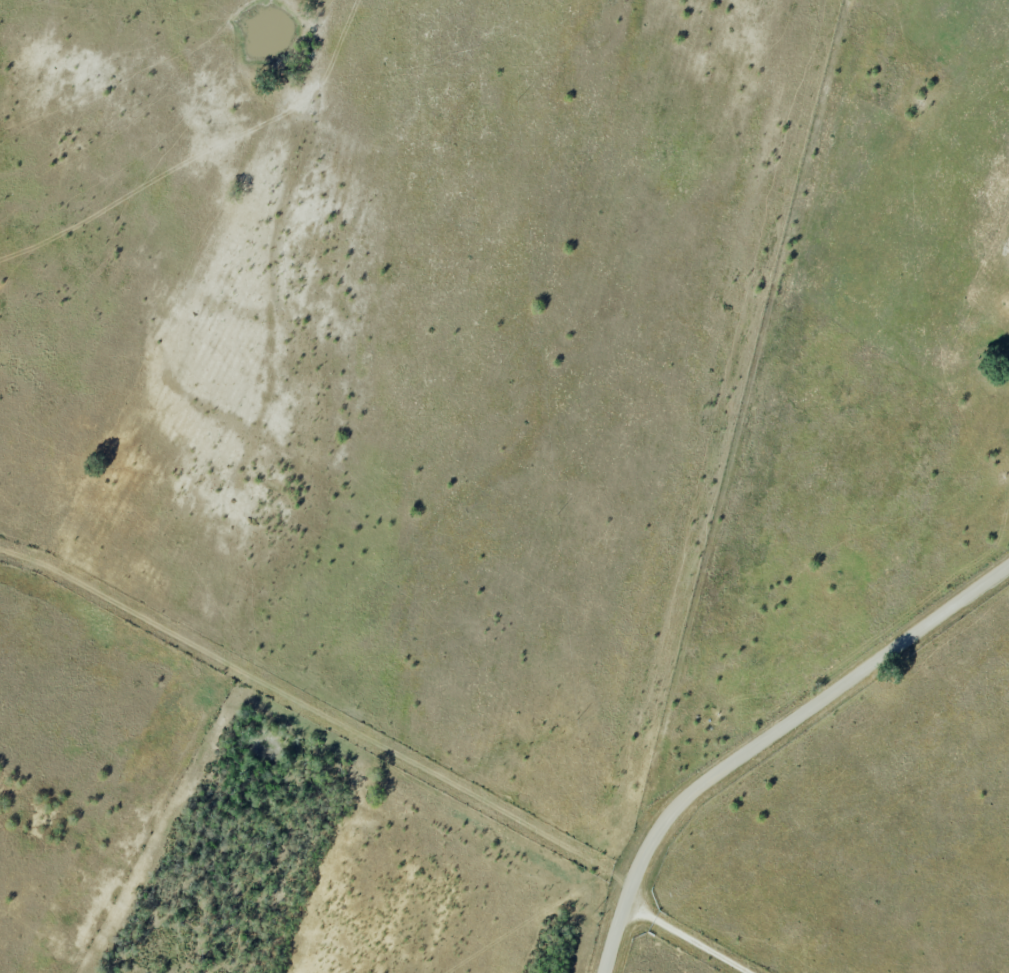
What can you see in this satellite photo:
road: (737, 447)
road: (766, 737)
road: (688, 934)

